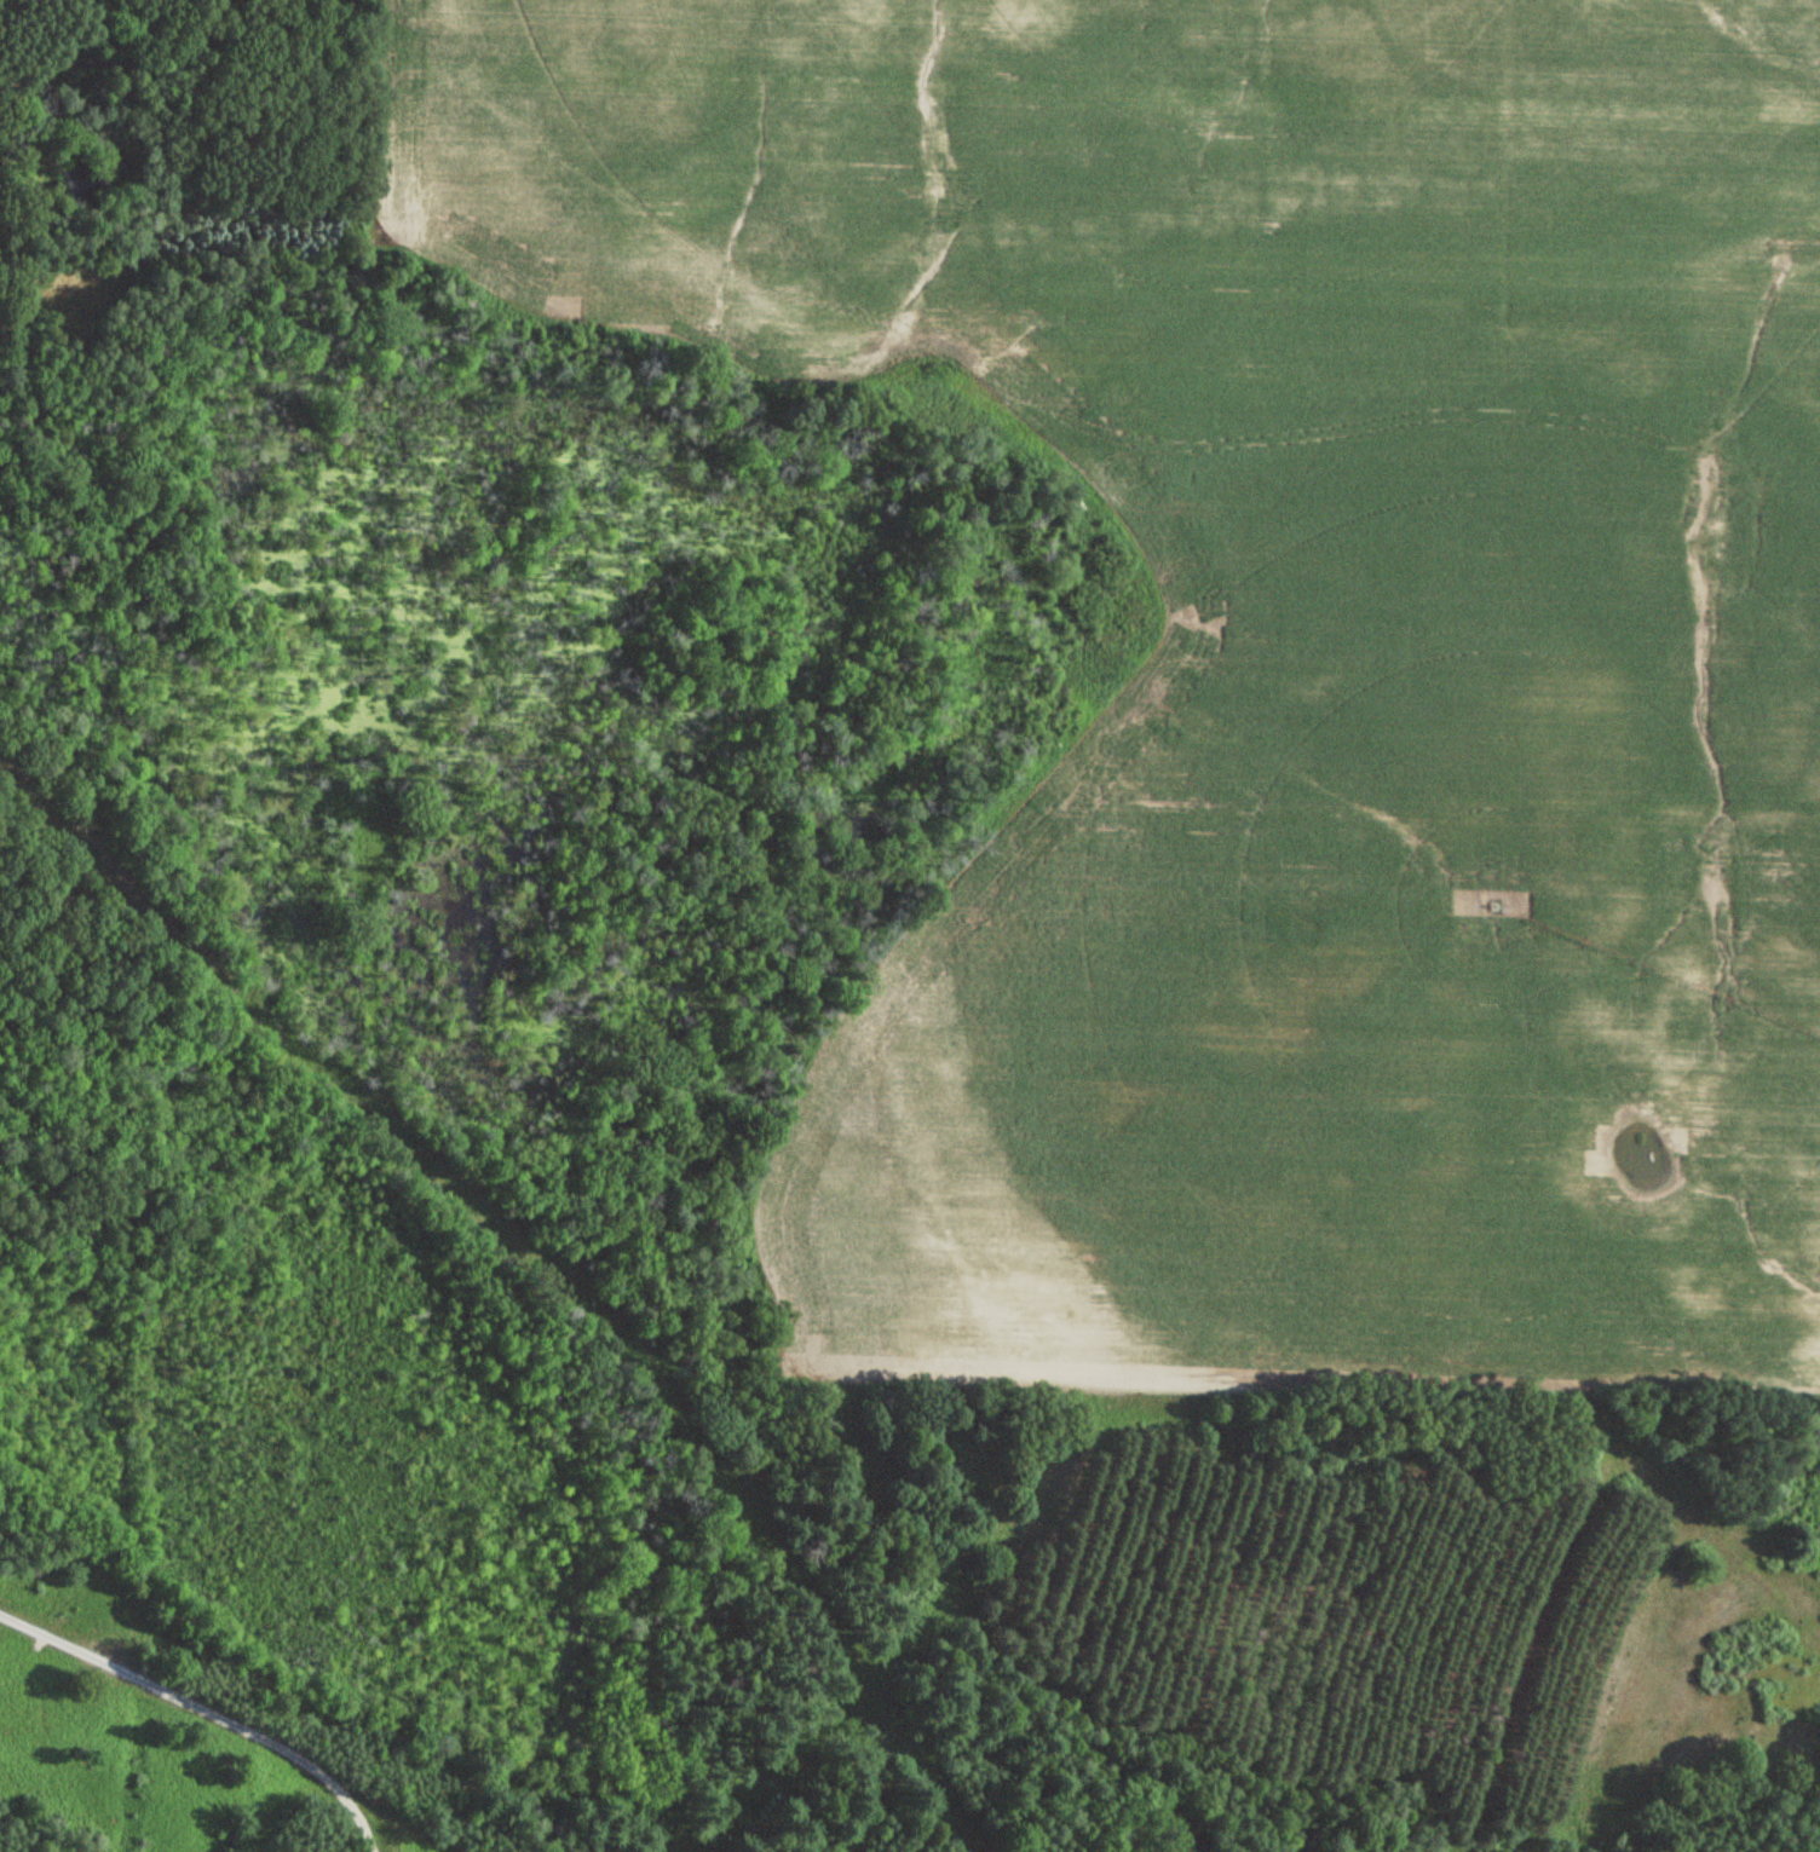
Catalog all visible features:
road: (911, 835)
road: (209, 1707)

